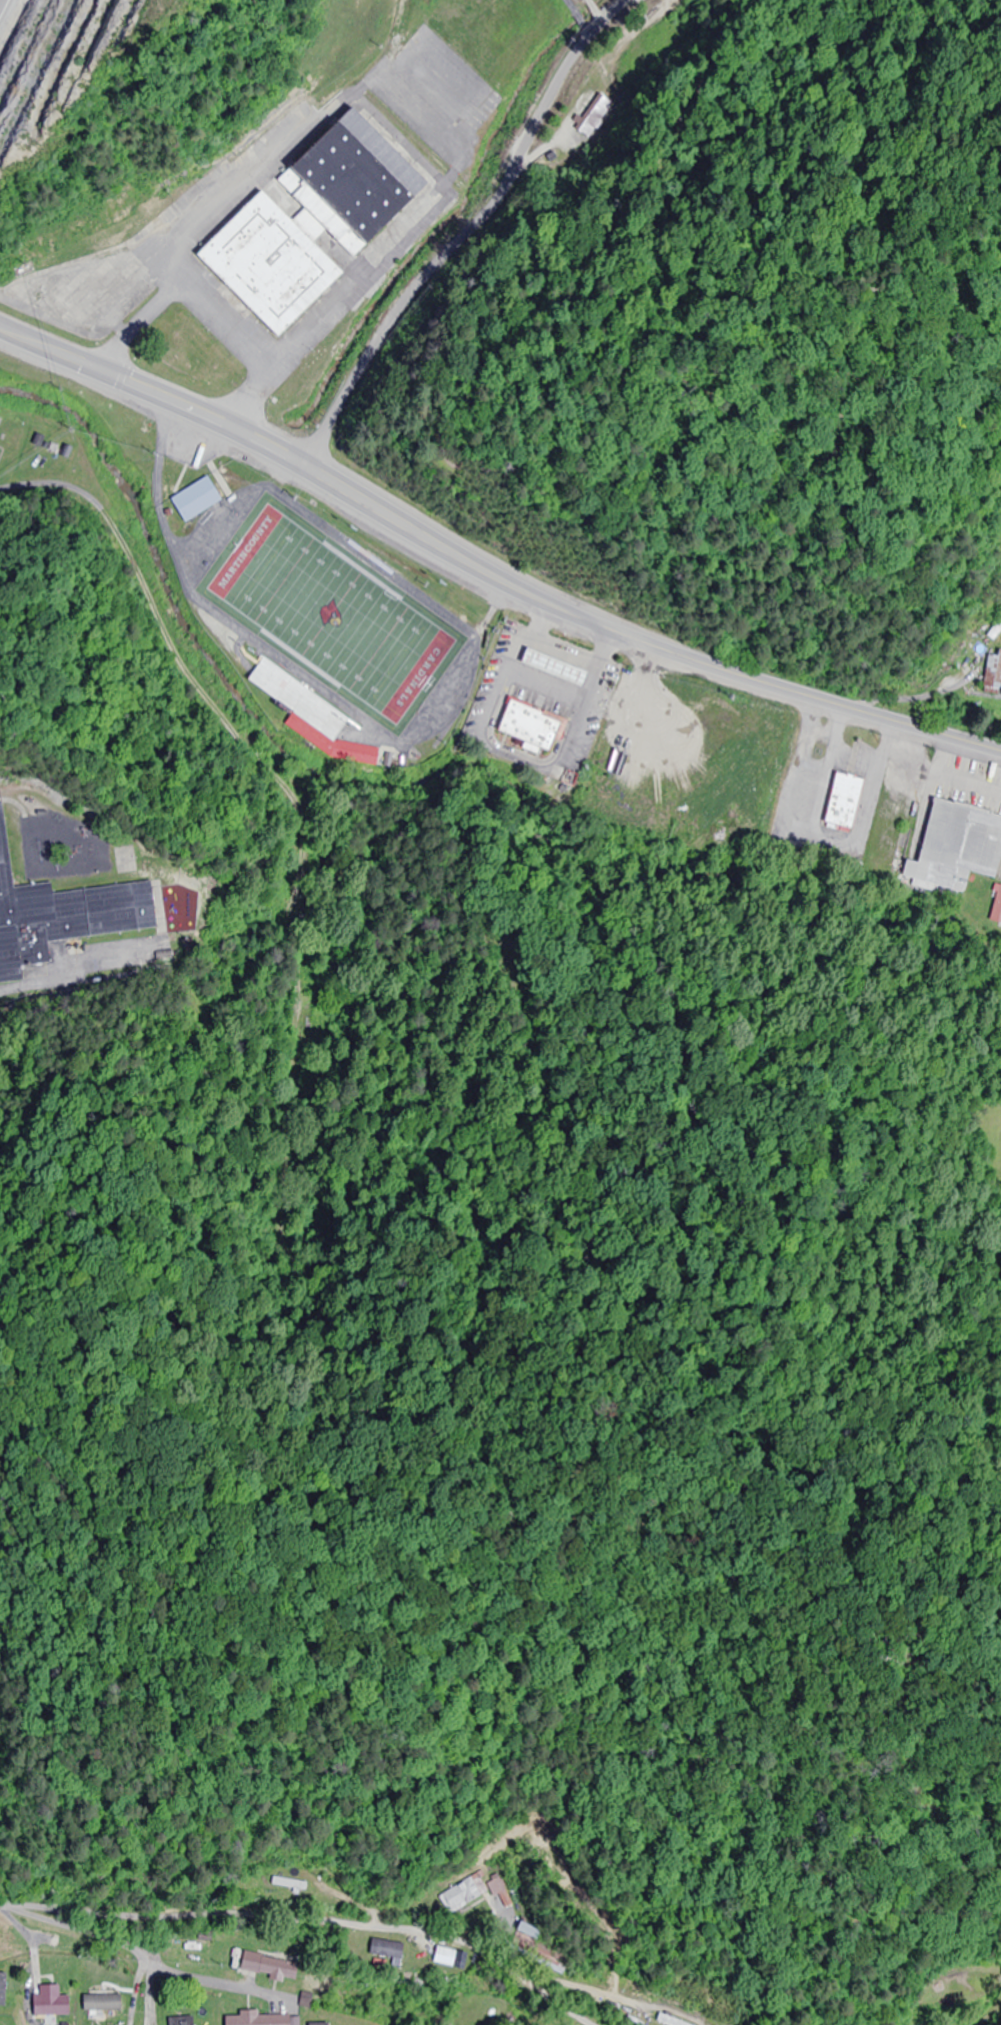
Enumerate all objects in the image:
road: (1, 1)
road: (599, 8)
building: (481, 109)
building: (313, 215)
road: (469, 235)
building: (1, 453)
building: (190, 499)
road: (486, 573)
park: (334, 612)
building: (549, 667)
building: (990, 674)
building: (305, 714)
building: (524, 727)
building: (838, 802)
building: (953, 846)
building: (995, 907)
building: (60, 916)
building: (283, 1885)
building: (472, 1892)
road: (305, 1922)
building: (382, 1949)
building: (182, 1954)
road: (141, 1956)
building: (439, 1956)
building: (266, 1967)
building: (3, 1989)
building: (48, 2004)
building: (98, 2004)
building: (263, 2019)
building: (182, 2020)
building: (664, 2020)

